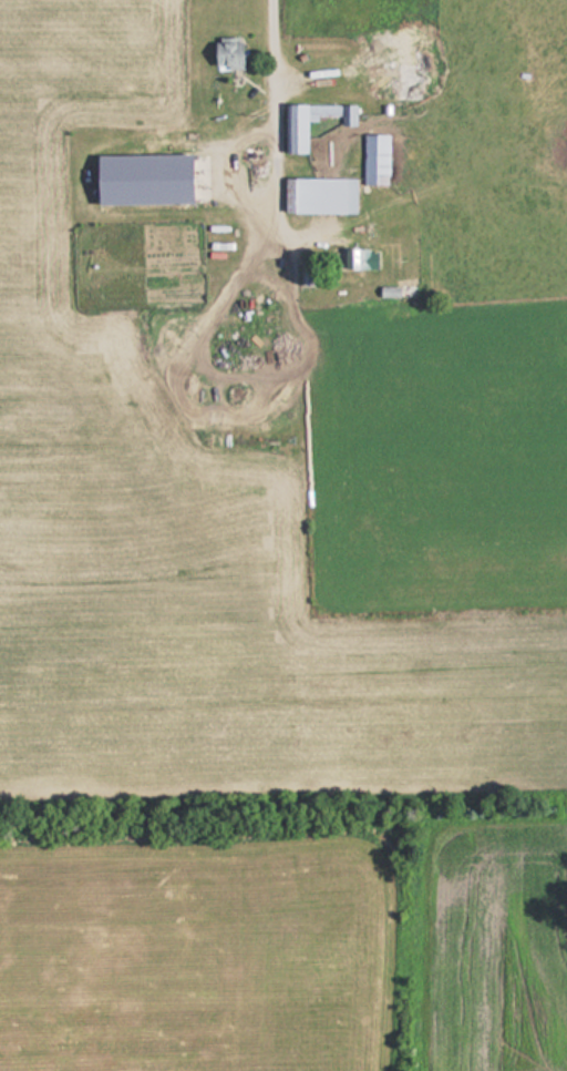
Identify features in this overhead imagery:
building: (226, 52)
building: (390, 67)
building: (303, 123)
building: (374, 160)
road: (281, 172)
building: (318, 195)
building: (359, 258)
building: (386, 292)
building: (43, 965)

